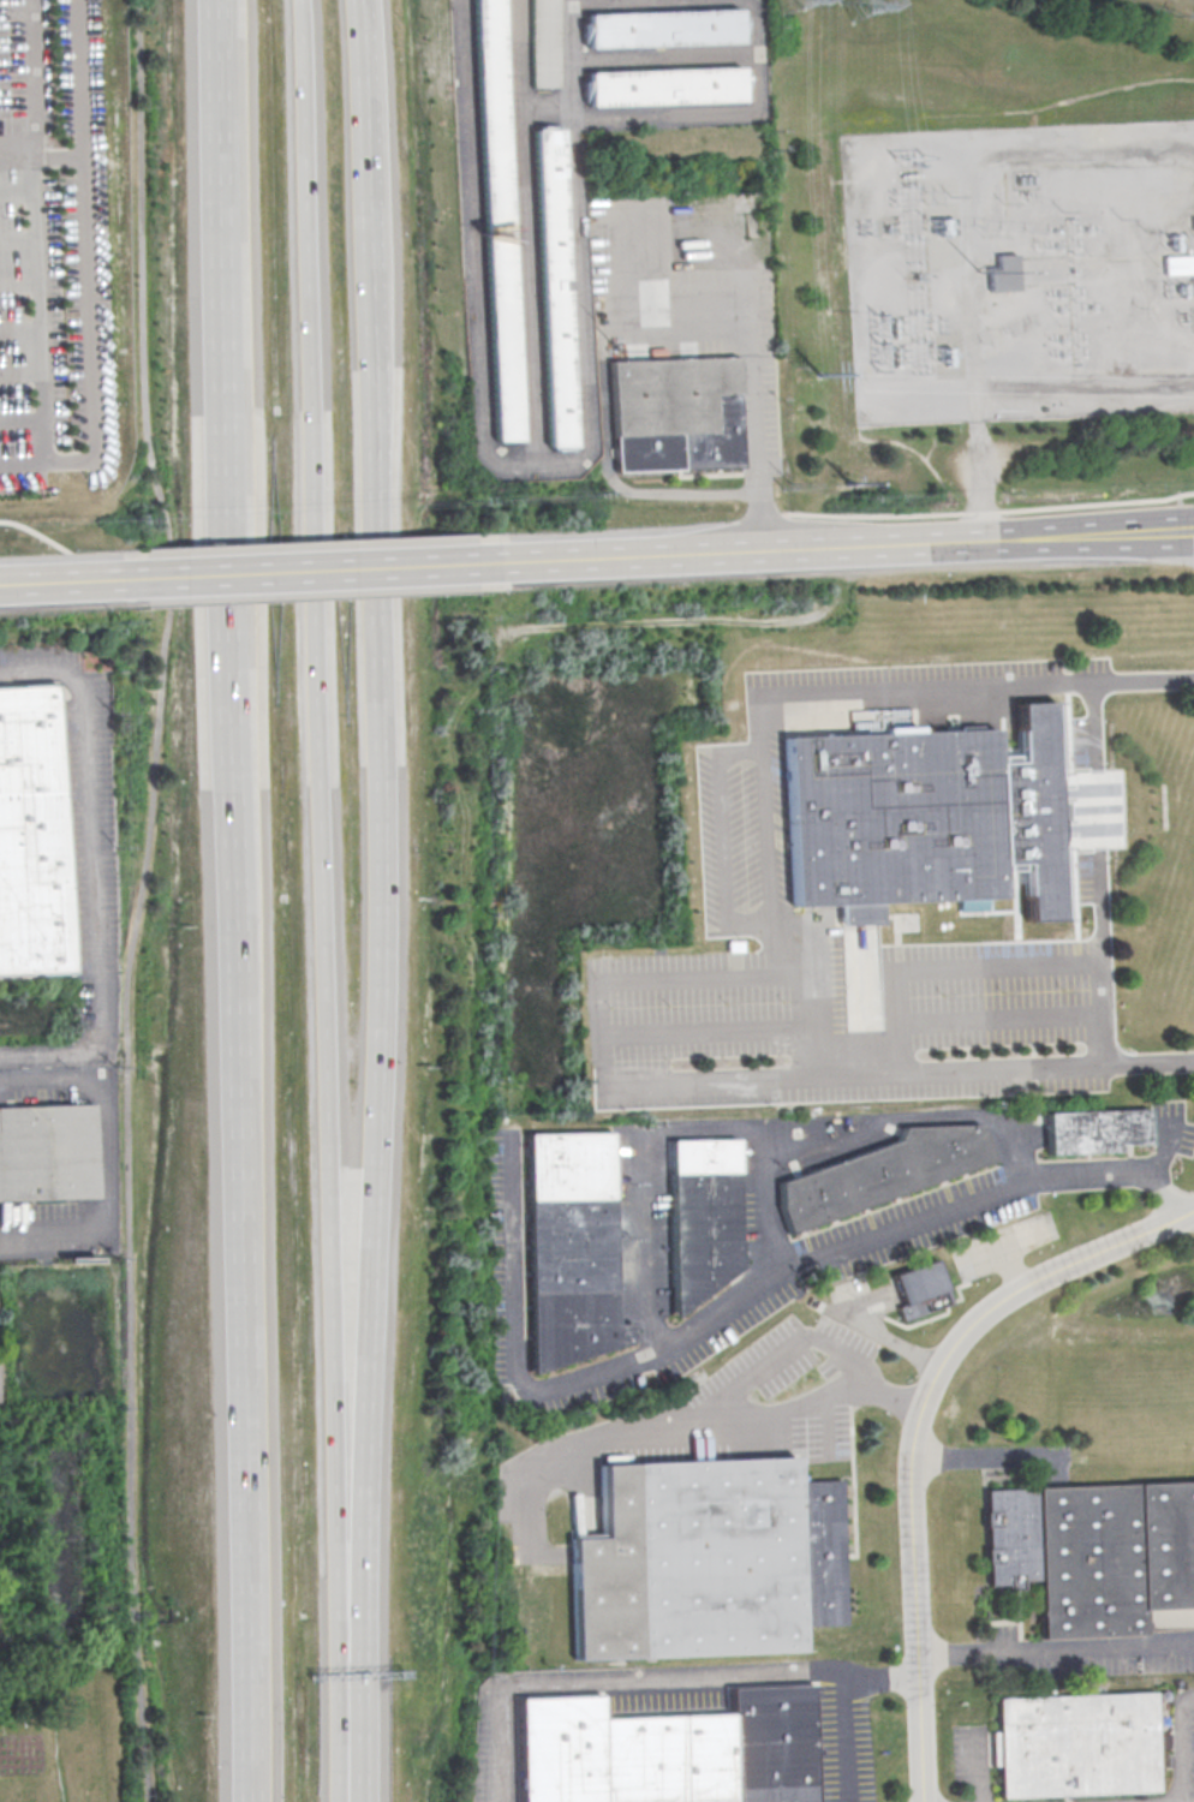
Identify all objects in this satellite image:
power tower: (786, 0)
power tower: (856, 4)
road: (227, 25)
building: (664, 26)
building: (550, 43)
road: (577, 56)
road: (663, 58)
road: (78, 76)
road: (525, 80)
building: (665, 86)
road: (721, 112)
road: (17, 143)
road: (967, 161)
road: (18, 189)
building: (503, 220)
road: (380, 237)
road: (18, 239)
road: (37, 255)
building: (1178, 263)
power substation: (1023, 273)
building: (1007, 274)
road: (19, 284)
building: (555, 288)
road: (85, 306)
road: (752, 324)
road: (19, 328)
road: (20, 368)
power tower: (819, 376)
road: (1085, 383)
building: (679, 413)
road: (22, 419)
road: (484, 446)
road: (607, 458)
road: (979, 464)
road: (990, 509)
road: (32, 532)
road: (843, 543)
road: (306, 571)
road: (59, 580)
road: (317, 687)
road: (747, 750)
road: (153, 807)
building: (929, 819)
building: (29, 836)
road: (723, 836)
road: (95, 870)
road: (1096, 870)
road: (752, 924)
road: (239, 926)
road: (949, 967)
road: (688, 968)
road: (817, 1000)
road: (999, 1022)
road: (709, 1031)
road: (768, 1126)
building: (1097, 1130)
road: (375, 1138)
road: (1160, 1147)
building: (44, 1153)
road: (100, 1157)
building: (883, 1173)
road: (764, 1200)
building: (704, 1216)
building: (573, 1248)
road: (1001, 1252)
building: (921, 1289)
road: (739, 1296)
road: (882, 1337)
road: (793, 1348)
road: (706, 1412)
road: (914, 1430)
road: (983, 1458)
road: (334, 1534)
building: (1096, 1553)
building: (708, 1559)
road: (136, 1627)
road: (1055, 1647)
road: (651, 1677)
road: (143, 1718)
road: (844, 1737)
road: (1178, 1742)
building: (1075, 1744)
road: (340, 1748)
building: (668, 1750)

